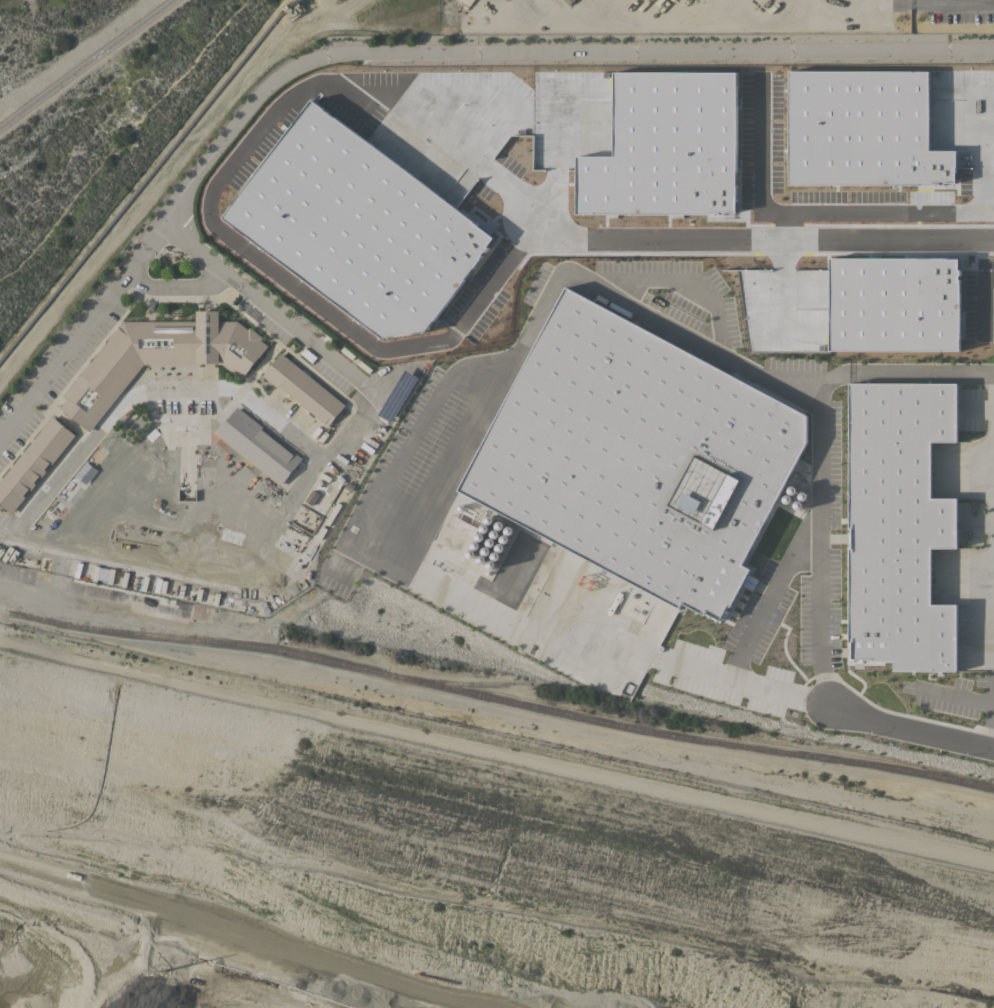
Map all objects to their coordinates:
parking lot: (956, 10)
road: (753, 19)
road: (536, 54)
road: (84, 61)
building: (861, 129)
building: (663, 146)
road: (241, 150)
road: (812, 211)
road: (784, 224)
building: (356, 225)
road: (762, 237)
road: (492, 279)
road: (671, 280)
road: (172, 284)
building: (892, 303)
road: (80, 333)
parking lot: (297, 336)
building: (158, 357)
parking lot: (55, 365)
road: (991, 386)
road: (142, 389)
building: (303, 389)
building: (257, 445)
building: (638, 455)
building: (33, 462)
road: (303, 475)
parking lot: (4, 521)
building: (898, 527)
building: (106, 579)
road: (770, 593)
railway: (474, 681)
road: (742, 681)
road: (958, 695)
railway: (496, 698)
road: (910, 726)
road: (993, 744)
quarry: (446, 860)

